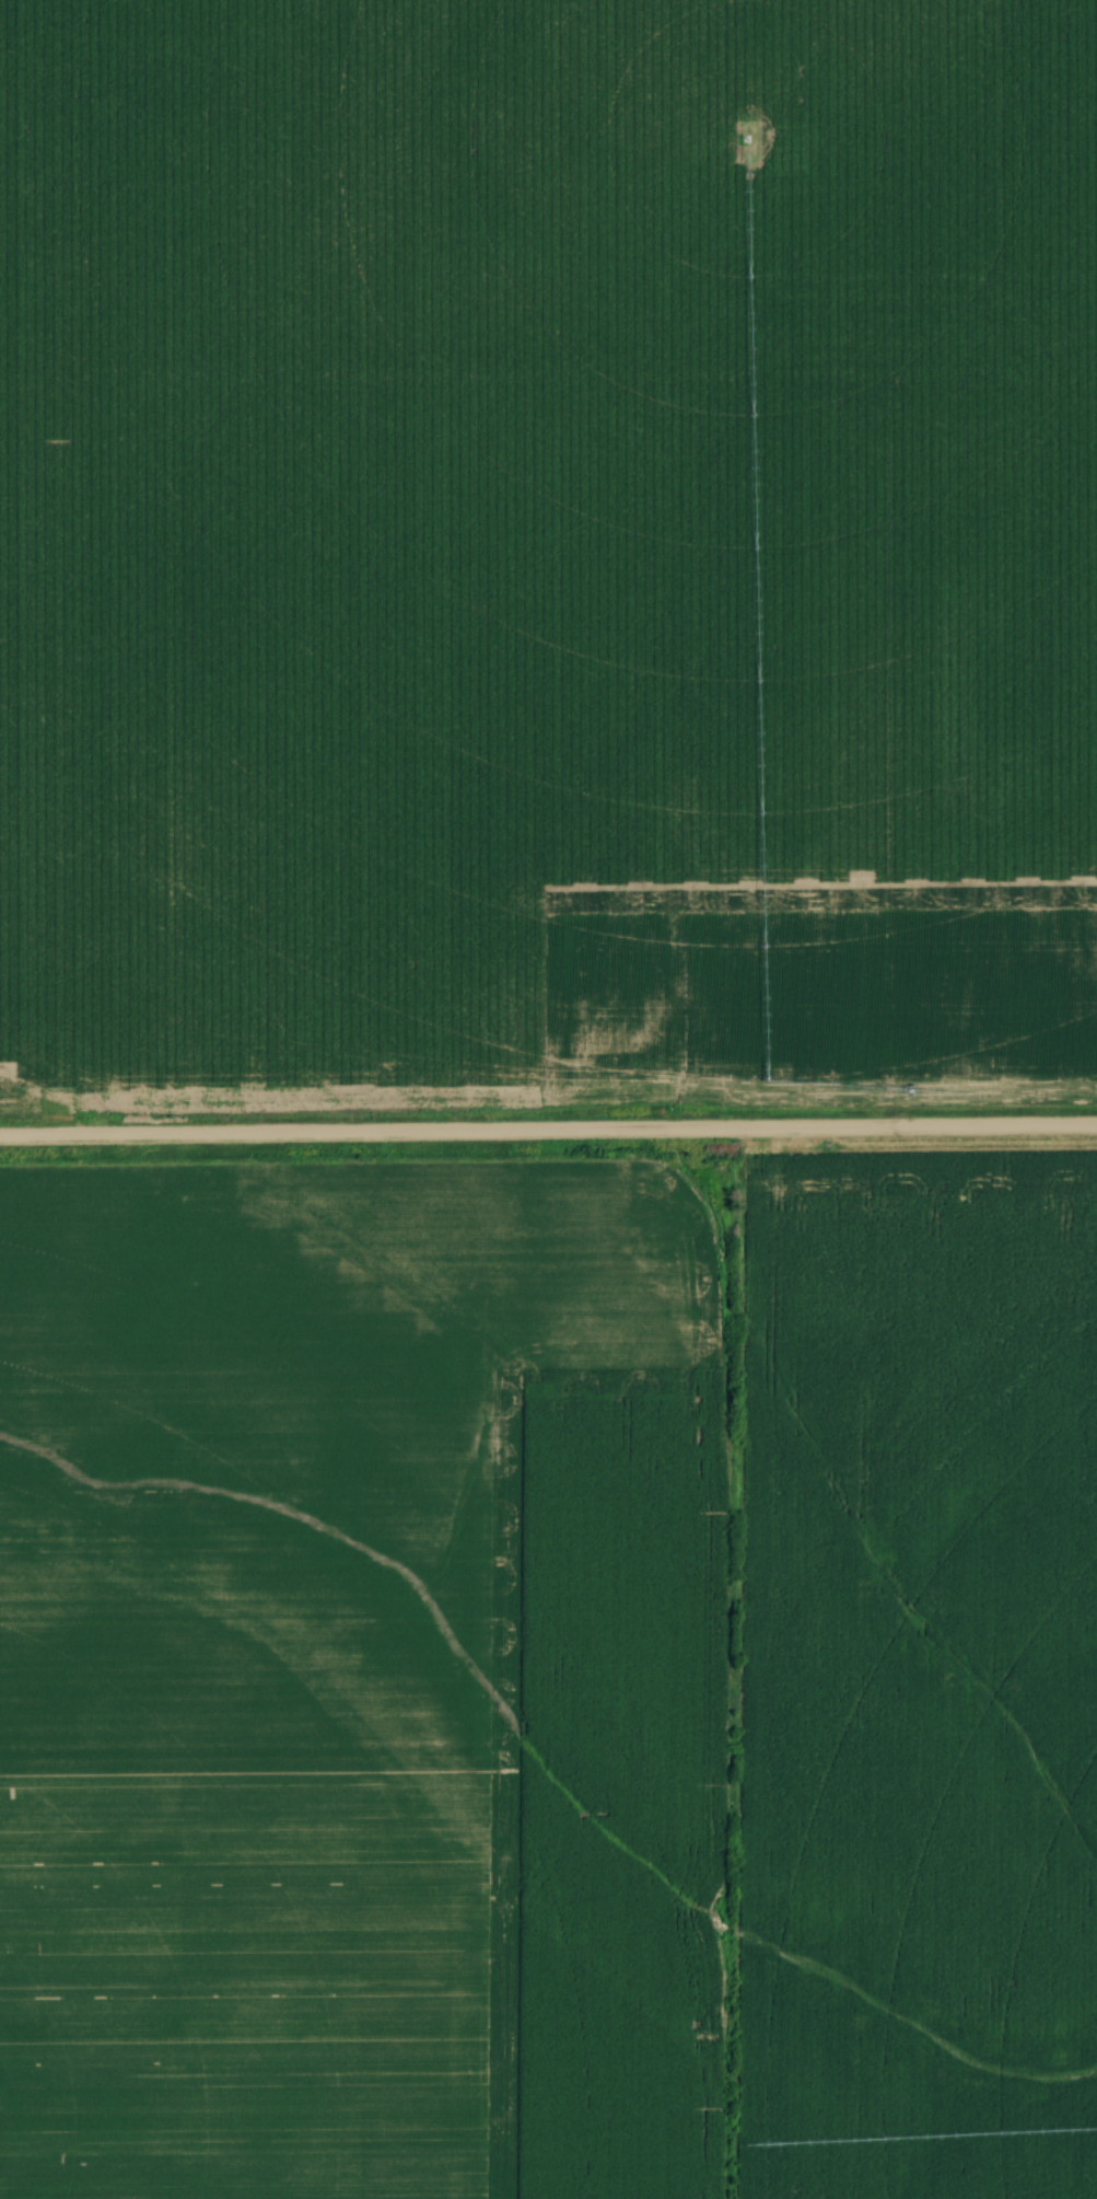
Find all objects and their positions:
road: (548, 1134)

